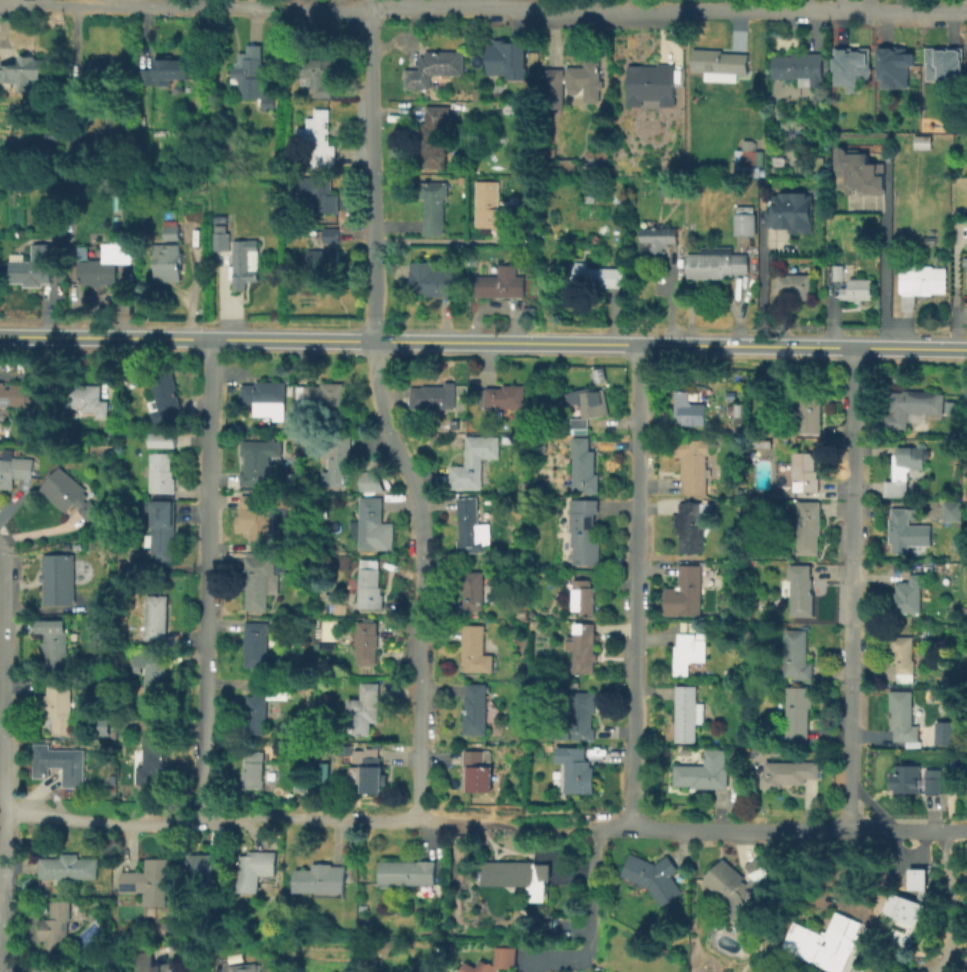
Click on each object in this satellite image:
road: (545, 4)
road: (631, 4)
road: (838, 5)
road: (483, 7)
building: (509, 60)
building: (719, 64)
building: (891, 65)
building: (801, 67)
building: (849, 67)
building: (436, 69)
building: (943, 70)
building: (101, 71)
building: (24, 73)
building: (167, 73)
building: (320, 77)
building: (251, 78)
building: (571, 83)
building: (653, 87)
building: (78, 94)
building: (271, 102)
building: (145, 121)
building: (320, 138)
building: (438, 141)
building: (922, 142)
building: (749, 160)
building: (567, 165)
building: (861, 169)
road: (371, 174)
building: (669, 189)
building: (322, 192)
building: (435, 207)
building: (493, 207)
building: (791, 208)
building: (0, 217)
building: (745, 223)
building: (171, 231)
building: (331, 237)
building: (221, 239)
building: (657, 241)
building: (167, 259)
building: (323, 262)
building: (244, 263)
building: (716, 264)
building: (106, 265)
building: (32, 268)
building: (839, 274)
building: (598, 277)
building: (431, 279)
building: (966, 279)
road: (882, 281)
building: (920, 282)
building: (502, 284)
road: (760, 285)
building: (797, 285)
building: (859, 291)
road: (954, 293)
road: (668, 303)
road: (960, 315)
road: (483, 343)
building: (596, 374)
building: (319, 396)
building: (435, 396)
building: (16, 397)
building: (503, 398)
building: (90, 399)
building: (164, 399)
building: (262, 402)
building: (913, 407)
building: (589, 408)
building: (691, 408)
building: (739, 413)
building: (812, 417)
building: (161, 439)
building: (761, 444)
building: (338, 460)
building: (258, 462)
building: (475, 462)
building: (585, 466)
building: (692, 466)
building: (906, 470)
building: (15, 472)
building: (804, 473)
building: (163, 475)
building: (372, 482)
building: (69, 495)
building: (951, 511)
building: (260, 515)
building: (372, 523)
building: (692, 526)
building: (473, 527)
building: (808, 528)
building: (906, 529)
building: (162, 531)
building: (586, 531)
road: (419, 577)
road: (207, 579)
building: (55, 581)
building: (260, 581)
building: (371, 586)
road: (634, 587)
road: (851, 588)
building: (475, 590)
building: (690, 590)
building: (802, 590)
building: (325, 594)
building: (910, 595)
building: (584, 597)
building: (523, 614)
building: (157, 619)
building: (539, 631)
building: (56, 643)
building: (368, 643)
building: (257, 644)
building: (328, 646)
building: (475, 650)
building: (690, 650)
building: (586, 651)
building: (797, 656)
building: (905, 657)
building: (154, 677)
building: (59, 706)
building: (364, 710)
building: (260, 711)
building: (477, 711)
building: (688, 714)
building: (798, 714)
building: (584, 715)
building: (904, 718)
road: (2, 720)
building: (137, 724)
building: (943, 732)
road: (5, 756)
building: (154, 760)
building: (61, 763)
building: (254, 770)
building: (577, 770)
building: (478, 772)
building: (706, 772)
building: (790, 773)
building: (371, 776)
building: (918, 779)
building: (302, 784)
road: (451, 818)
road: (210, 820)
road: (782, 828)
building: (69, 867)
building: (207, 867)
building: (256, 870)
building: (407, 873)
building: (541, 873)
building: (965, 873)
building: (511, 874)
building: (656, 876)
building: (323, 879)
building: (150, 881)
building: (740, 889)
road: (589, 890)
building: (900, 899)
road: (948, 899)
road: (2, 910)
building: (58, 927)
building: (827, 943)
road: (188, 952)
building: (505, 959)
building: (156, 963)
building: (244, 968)
building: (46, 970)

